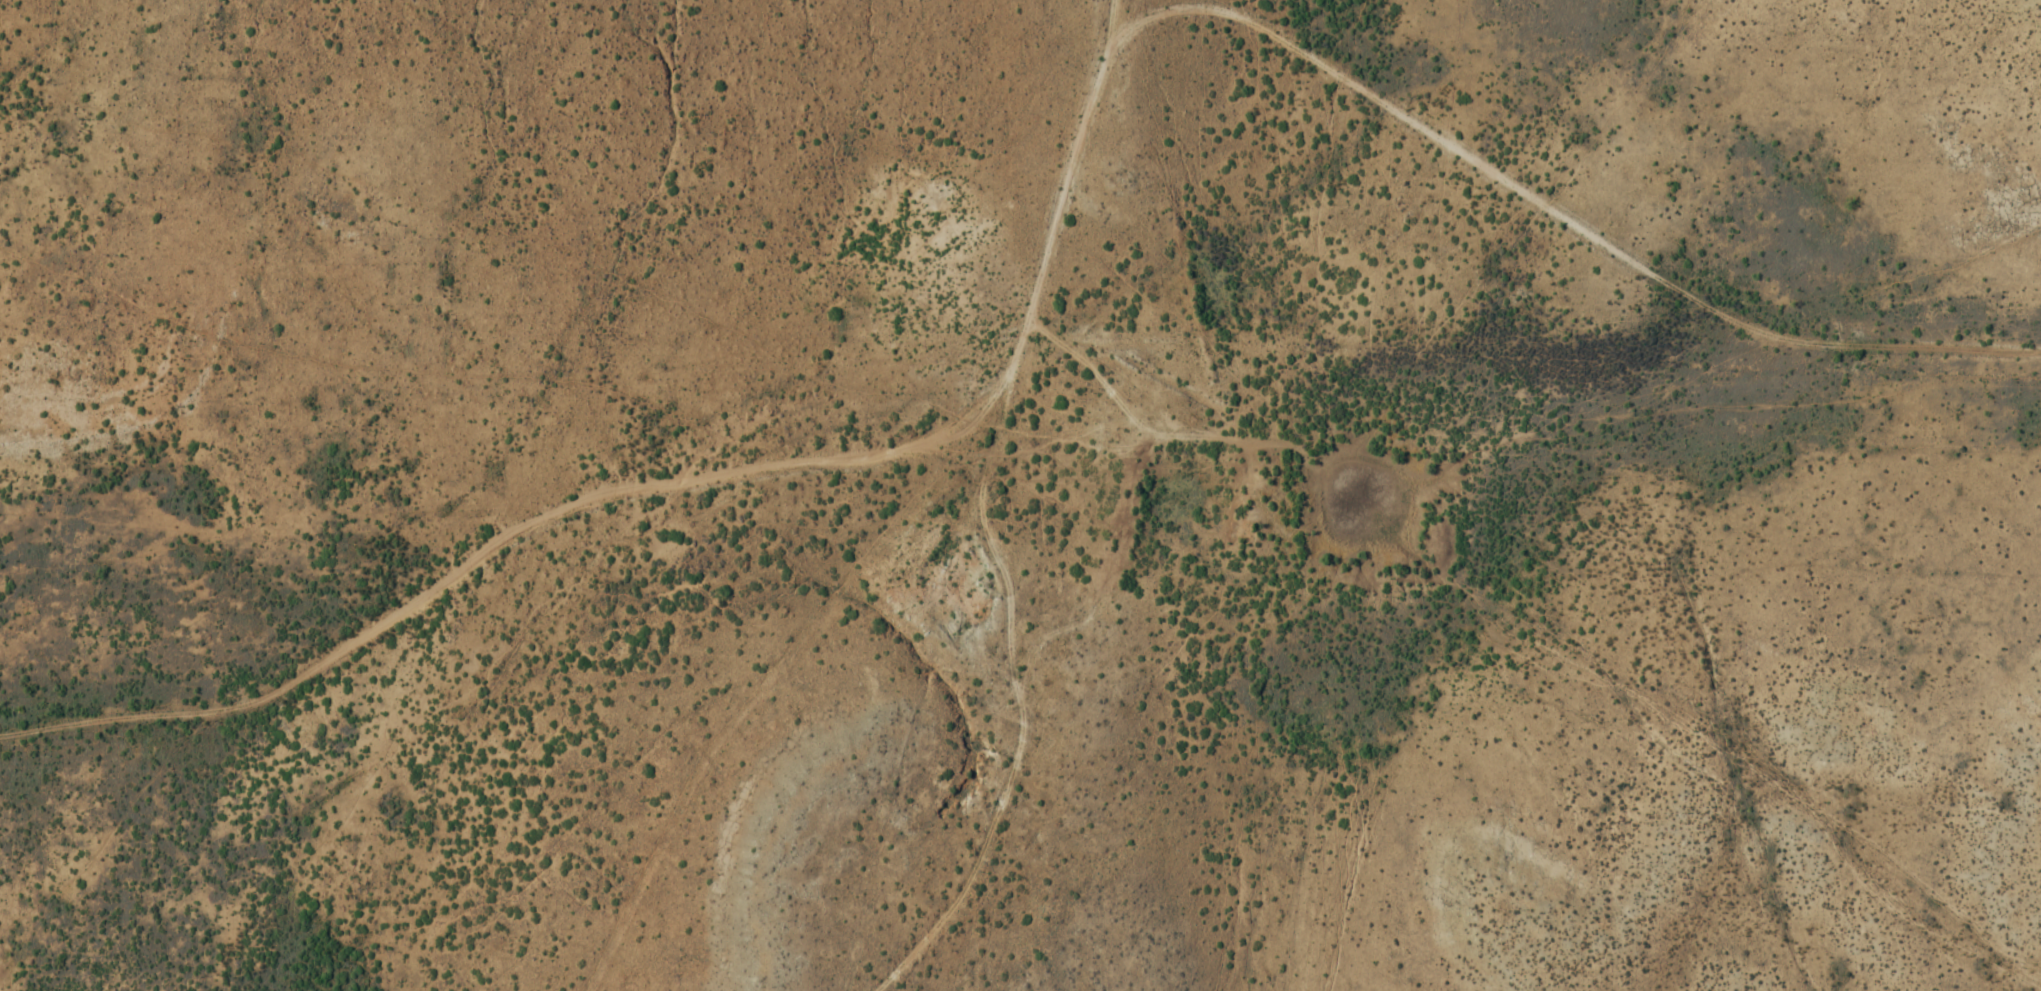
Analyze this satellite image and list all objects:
road: (1551, 204)
road: (1092, 372)
road: (679, 478)
road: (991, 532)
road: (1081, 621)
road: (745, 694)
road: (0, 989)

